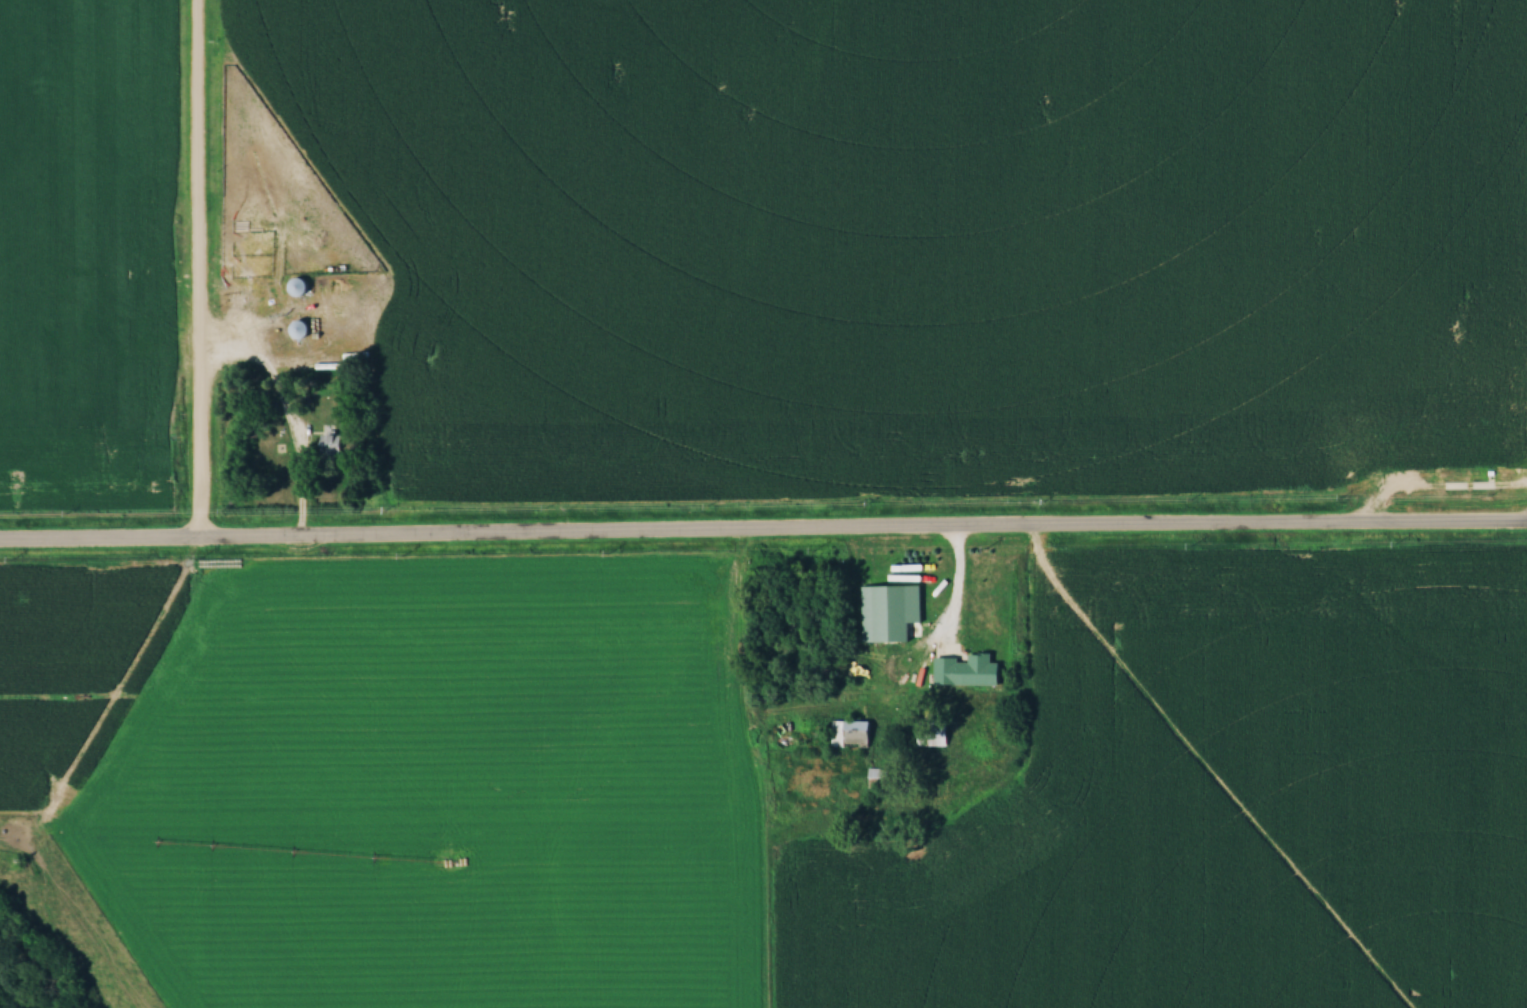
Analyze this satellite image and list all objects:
road: (203, 272)
building: (295, 286)
building: (229, 287)
building: (326, 326)
building: (296, 328)
building: (329, 443)
road: (301, 485)
road: (763, 536)
road: (964, 608)
building: (964, 670)
building: (929, 732)
building: (848, 733)
building: (876, 776)

